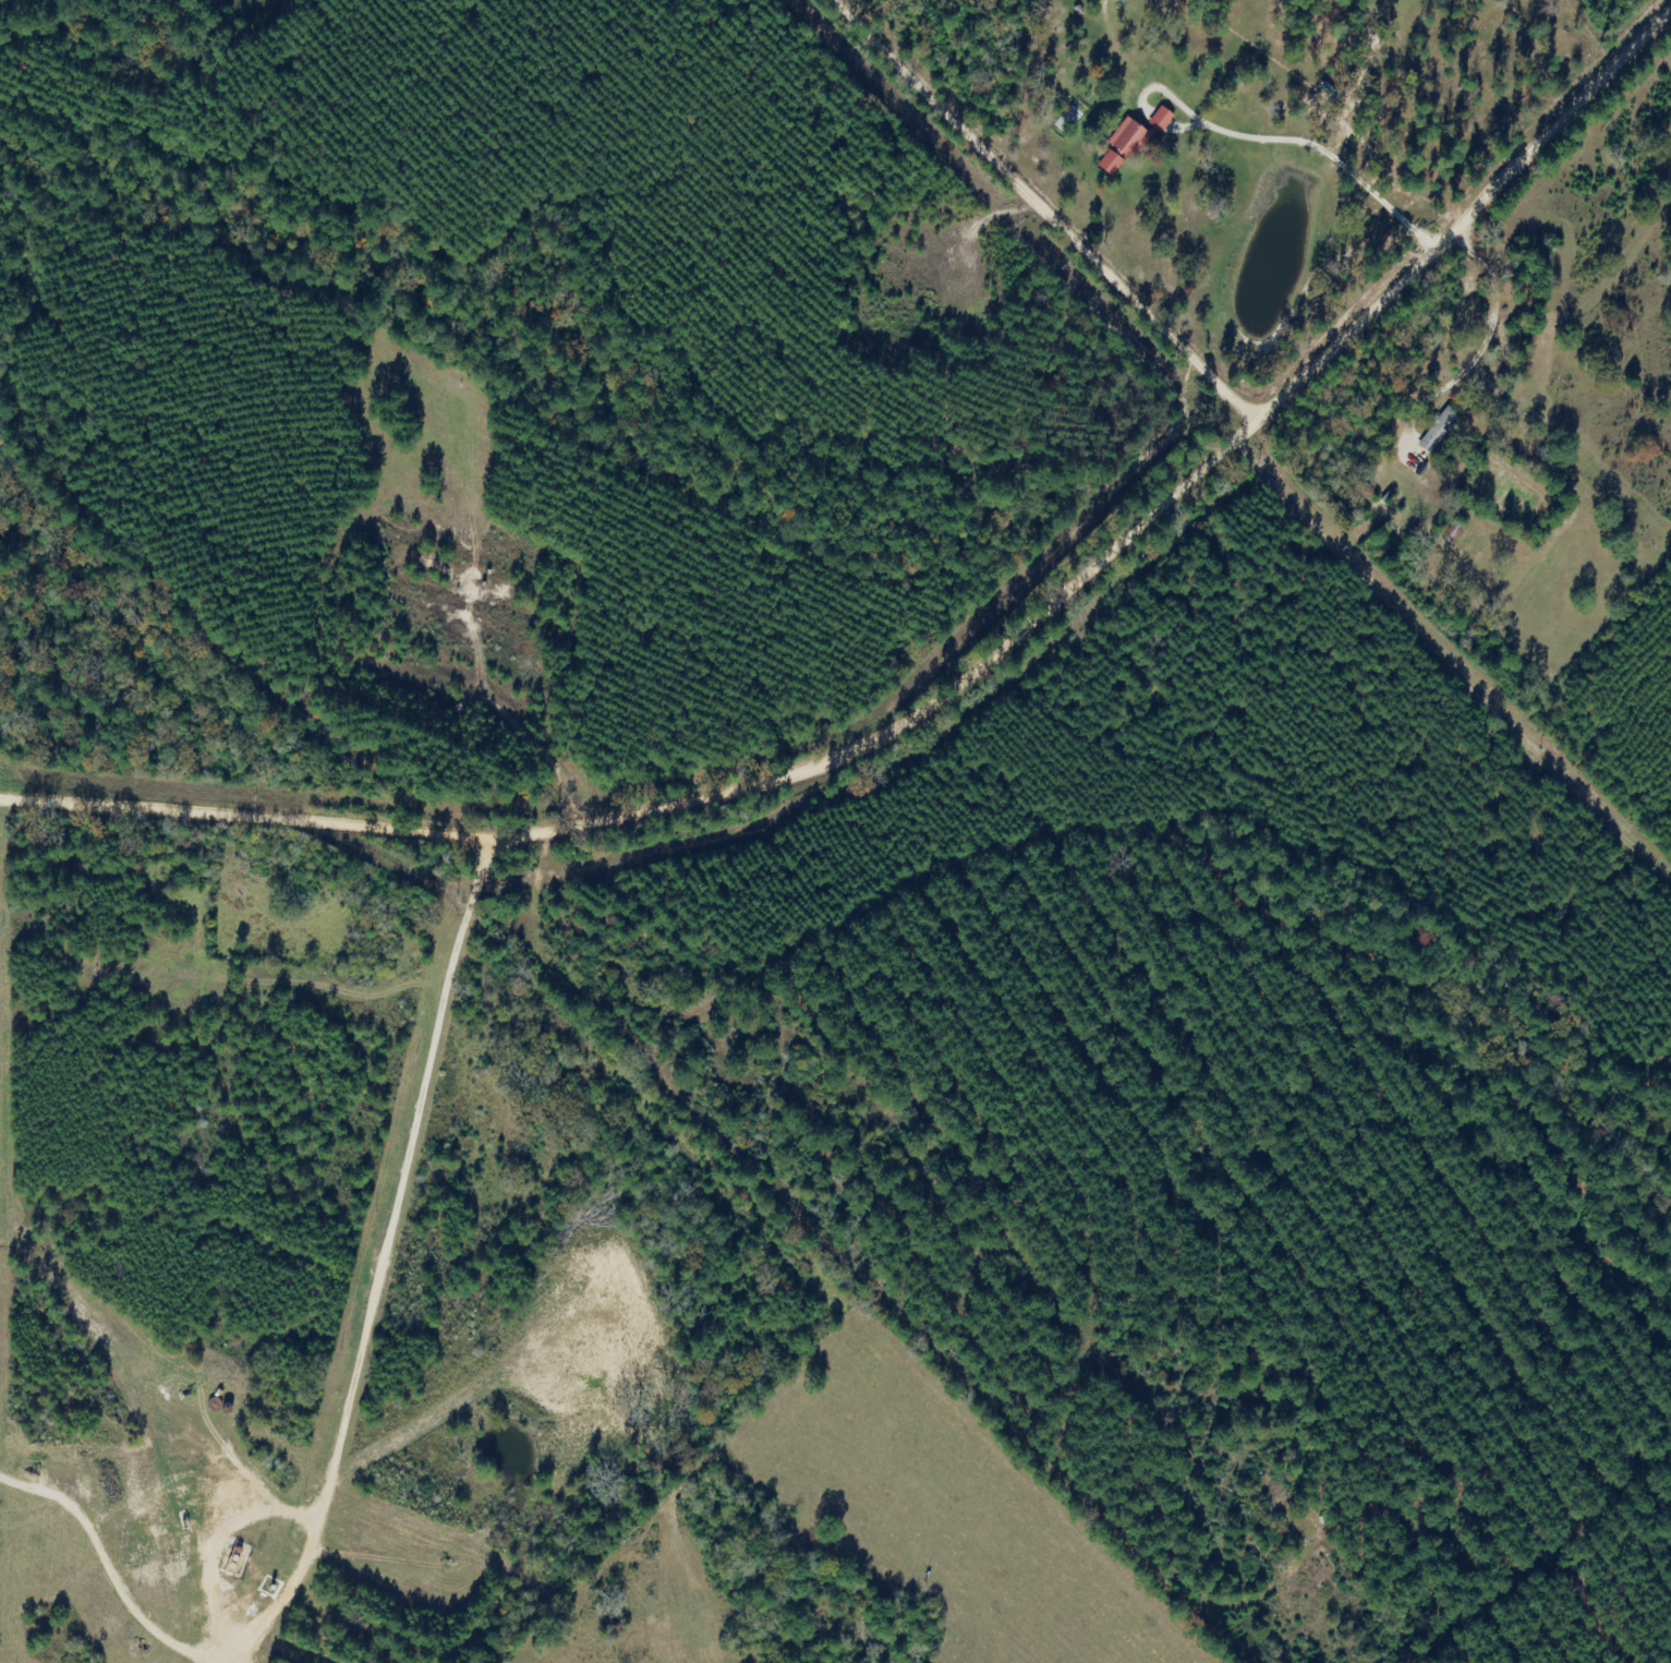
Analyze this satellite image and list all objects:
building: (1127, 1)
building: (1143, 134)
building: (1115, 164)
road: (1029, 196)
building: (1438, 431)
road: (950, 665)
road: (380, 1255)
road: (269, 1639)

